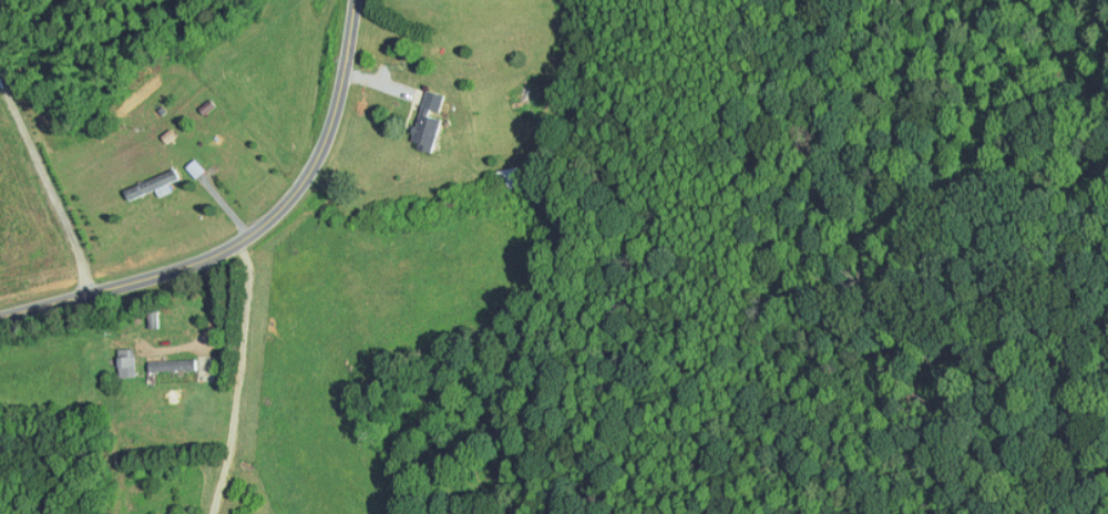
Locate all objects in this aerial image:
building: (420, 113)
building: (186, 161)
road: (49, 181)
road: (250, 234)
building: (117, 356)
road: (239, 377)

